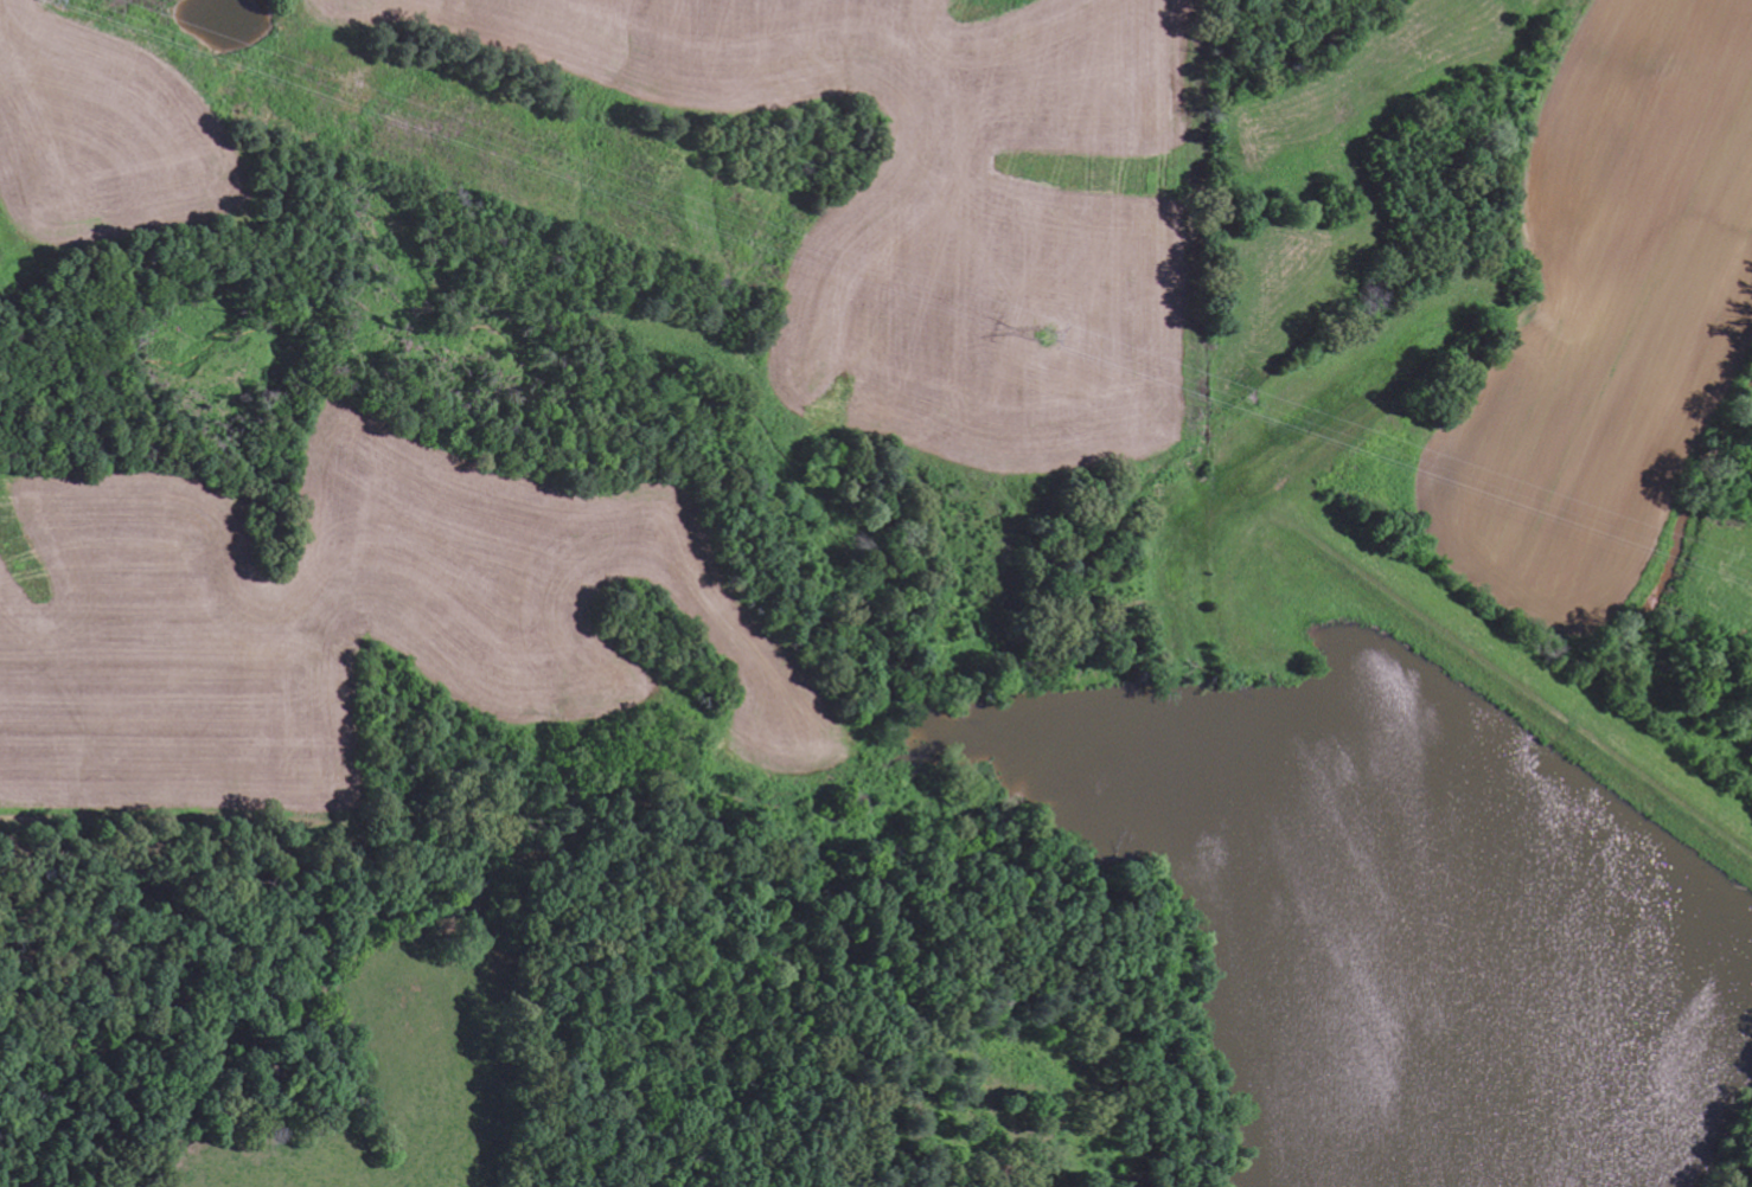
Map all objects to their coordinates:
power tower: (1048, 326)

